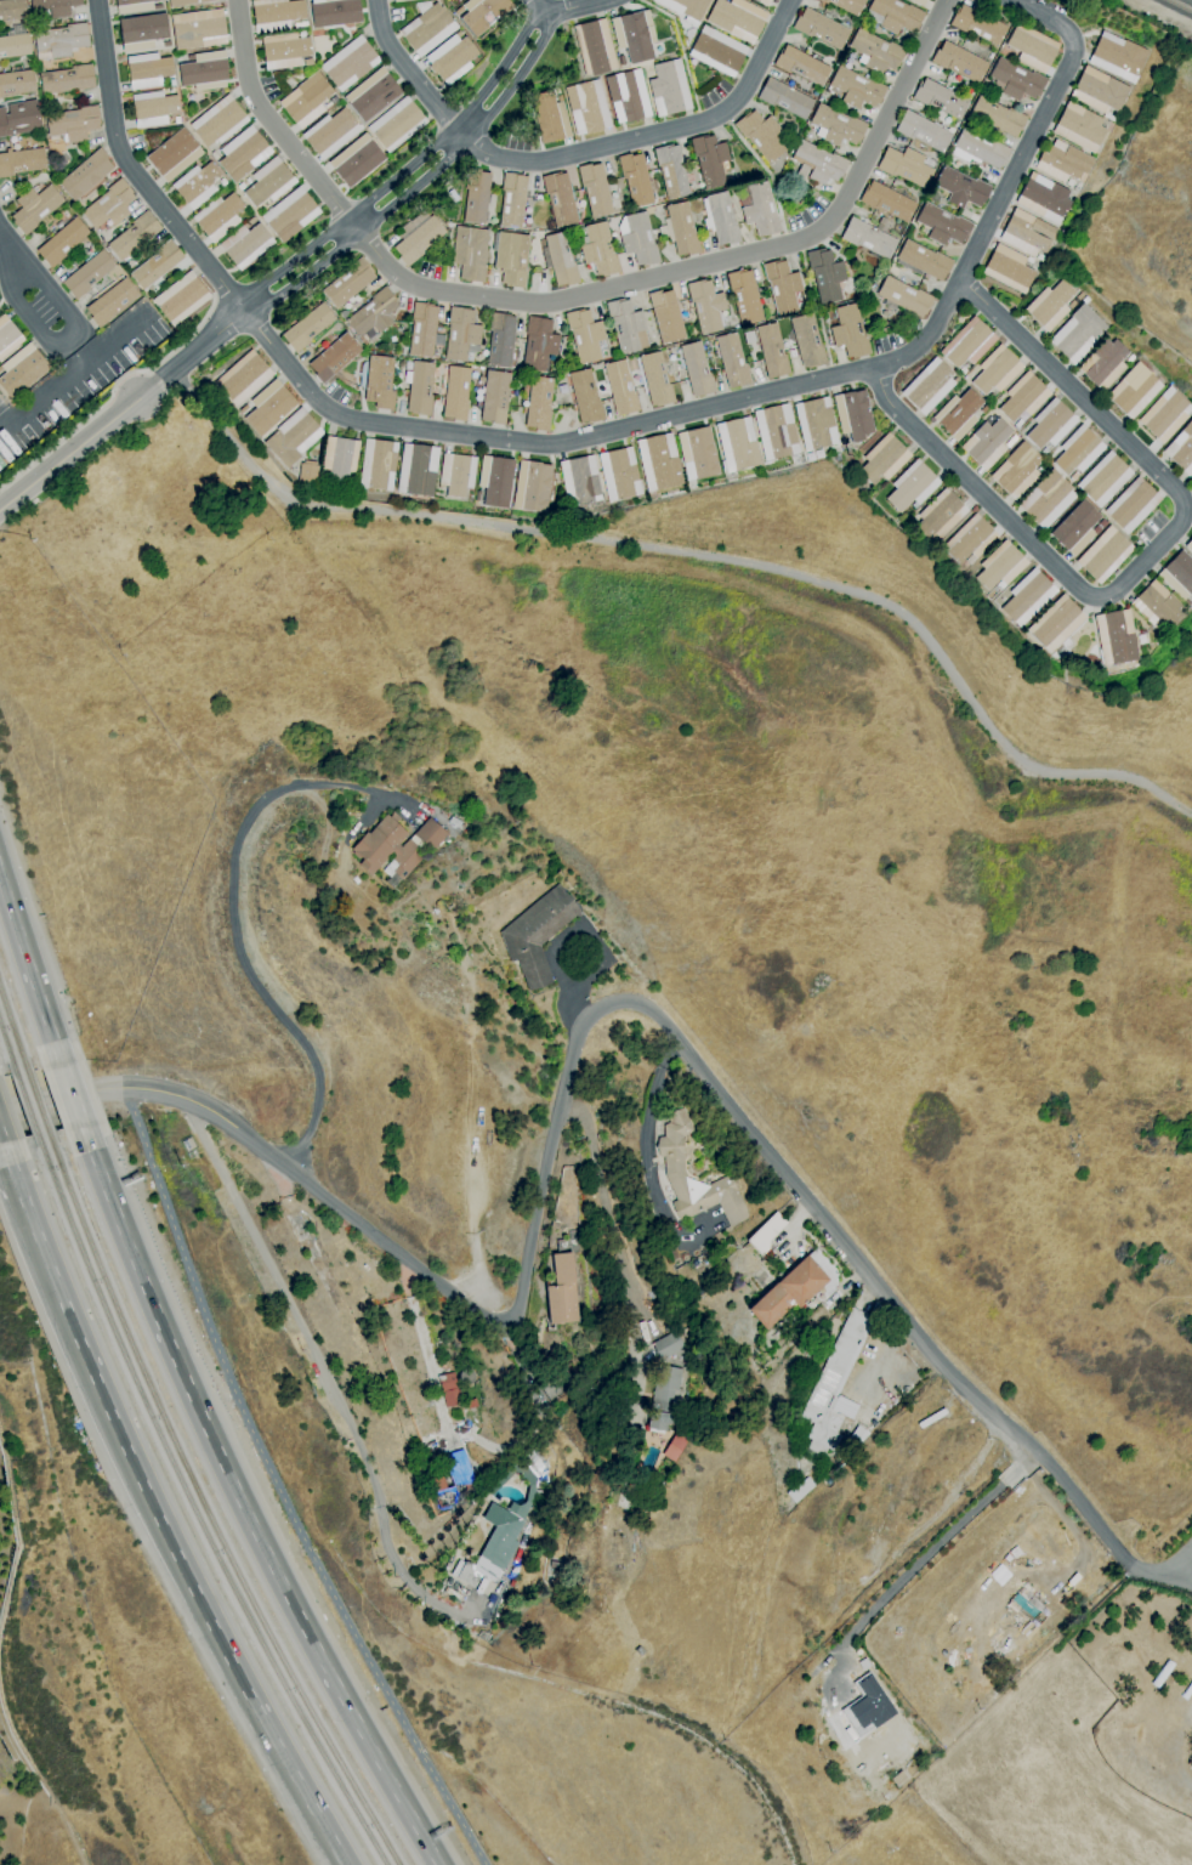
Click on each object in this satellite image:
building: (398, 0)
building: (764, 1)
building: (188, 2)
building: (918, 2)
building: (847, 5)
railway: (1180, 5)
building: (55, 6)
building: (134, 6)
road: (569, 8)
building: (685, 8)
building: (12, 10)
building: (334, 12)
parking lot: (393, 13)
building: (483, 13)
building: (276, 15)
building: (893, 15)
road: (541, 17)
building: (737, 18)
building: (300, 24)
building: (977, 24)
building: (427, 28)
building: (819, 28)
building: (198, 29)
building: (142, 32)
building: (689, 34)
building: (632, 36)
building: (61, 41)
building: (15, 46)
building: (595, 47)
building: (1032, 47)
building: (284, 51)
building: (717, 51)
building: (875, 52)
building: (1118, 56)
building: (453, 59)
building: (959, 62)
building: (348, 63)
road: (501, 64)
building: (801, 66)
building: (147, 70)
building: (204, 72)
road: (517, 75)
building: (68, 80)
building: (1015, 80)
building: (17, 83)
parking lot: (267, 86)
building: (669, 89)
building: (856, 89)
building: (1099, 92)
parking lot: (713, 93)
building: (371, 95)
building: (628, 96)
building: (784, 98)
building: (940, 98)
building: (306, 100)
building: (330, 102)
building: (586, 107)
building: (153, 108)
building: (998, 117)
building: (19, 118)
building: (549, 118)
building: (218, 121)
building: (73, 123)
building: (396, 124)
building: (836, 125)
building: (1079, 127)
road: (459, 129)
building: (921, 131)
building: (330, 132)
building: (760, 135)
parking lot: (516, 141)
building: (978, 149)
road: (573, 152)
building: (243, 153)
building: (174, 154)
building: (215, 155)
building: (356, 160)
building: (709, 160)
building: (21, 161)
building: (817, 163)
building: (1063, 163)
building: (904, 166)
building: (671, 171)
road: (766, 171)
road: (398, 172)
building: (85, 175)
building: (635, 180)
building: (268, 182)
building: (197, 185)
building: (242, 186)
road: (413, 187)
building: (960, 188)
building: (595, 189)
building: (476, 195)
building: (1044, 198)
building: (512, 199)
building: (560, 199)
building: (886, 202)
building: (109, 205)
building: (35, 208)
building: (761, 210)
building: (290, 214)
parking lot: (806, 214)
building: (218, 216)
building: (720, 219)
building: (251, 220)
road: (352, 225)
building: (942, 225)
building: (682, 229)
building: (663, 232)
building: (1027, 233)
building: (134, 236)
building: (868, 238)
building: (416, 239)
building: (637, 239)
building: (62, 242)
building: (245, 244)
building: (598, 249)
building: (470, 253)
building: (1039, 257)
road: (291, 259)
building: (511, 259)
road: (10, 260)
building: (561, 260)
building: (924, 260)
building: (1031, 261)
building: (157, 265)
building: (1009, 268)
parking lot: (427, 270)
road: (306, 273)
building: (87, 274)
building: (825, 276)
building: (348, 283)
building: (782, 285)
road: (577, 294)
building: (744, 296)
building: (903, 296)
building: (1079, 296)
road: (55, 299)
building: (181, 299)
building: (1085, 300)
building: (110, 302)
road: (251, 302)
building: (1050, 305)
building: (1072, 305)
building: (705, 306)
parking lot: (41, 308)
building: (373, 316)
building: (665, 316)
road: (29, 321)
building: (626, 327)
building: (307, 328)
building: (422, 330)
building: (848, 333)
building: (1077, 334)
building: (461, 335)
building: (7, 336)
building: (585, 336)
building: (749, 338)
road: (185, 339)
building: (500, 339)
building: (807, 341)
parking lot: (886, 341)
road: (70, 344)
building: (539, 344)
building: (967, 344)
building: (772, 351)
road: (189, 353)
building: (334, 357)
building: (731, 361)
building: (1103, 364)
building: (696, 369)
building: (21, 370)
building: (995, 370)
building: (243, 378)
parking lot: (78, 379)
building: (655, 380)
building: (380, 382)
building: (929, 386)
building: (420, 387)
building: (620, 387)
building: (1134, 390)
building: (456, 393)
building: (585, 396)
building: (494, 397)
building: (1023, 397)
building: (538, 403)
building: (268, 407)
building: (958, 414)
building: (852, 415)
building: (1165, 415)
road: (80, 423)
building: (814, 424)
building: (1050, 424)
building: (776, 431)
road: (592, 436)
building: (293, 437)
building: (987, 443)
building: (737, 444)
building: (1181, 449)
road: (68, 450)
building: (1078, 450)
building: (697, 453)
building: (340, 459)
building: (882, 459)
building: (1, 464)
building: (658, 464)
building: (379, 465)
building: (418, 470)
building: (1016, 470)
building: (308, 471)
building: (619, 474)
building: (456, 475)
building: (1103, 480)
building: (495, 481)
building: (580, 481)
building: (532, 487)
building: (912, 487)
building: (1046, 499)
building: (1131, 505)
building: (940, 516)
parking lot: (1148, 527)
building: (1074, 528)
building: (970, 540)
building: (1188, 545)
building: (1102, 555)
road: (1143, 559)
building: (1000, 566)
building: (1177, 576)
building: (1027, 597)
building: (1157, 606)
building: (1056, 624)
building: (1116, 637)
building: (453, 822)
building: (396, 846)
road: (234, 928)
building: (537, 934)
road: (29, 971)
road: (602, 1005)
railway: (12, 1033)
railway: (7, 1051)
road: (62, 1095)
road: (70, 1095)
railway: (36, 1101)
railway: (24, 1104)
road: (1, 1139)
building: (187, 1144)
road: (645, 1158)
building: (672, 1163)
road: (11, 1169)
road: (606, 1214)
road: (802, 1219)
building: (766, 1232)
building: (561, 1291)
building: (788, 1292)
building: (689, 1334)
building: (670, 1344)
road: (424, 1353)
road: (880, 1355)
road: (324, 1371)
building: (466, 1376)
building: (835, 1385)
building: (449, 1389)
building: (664, 1396)
building: (471, 1404)
building: (859, 1435)
building: (675, 1447)
building: (453, 1481)
building: (828, 1481)
road: (278, 1489)
building: (493, 1489)
building: (800, 1490)
building: (630, 1493)
road: (240, 1504)
railway: (192, 1508)
railway: (204, 1508)
road: (166, 1538)
building: (492, 1548)
road: (919, 1557)
building: (555, 1565)
road: (1182, 1566)
parking lot: (1176, 1569)
road: (1153, 1572)
road: (1182, 1581)
building: (640, 1651)
building: (861, 1656)
building: (863, 1663)
building: (1159, 1673)
building: (1186, 1689)
building: (868, 1706)
building: (1188, 1767)
building: (898, 1779)

